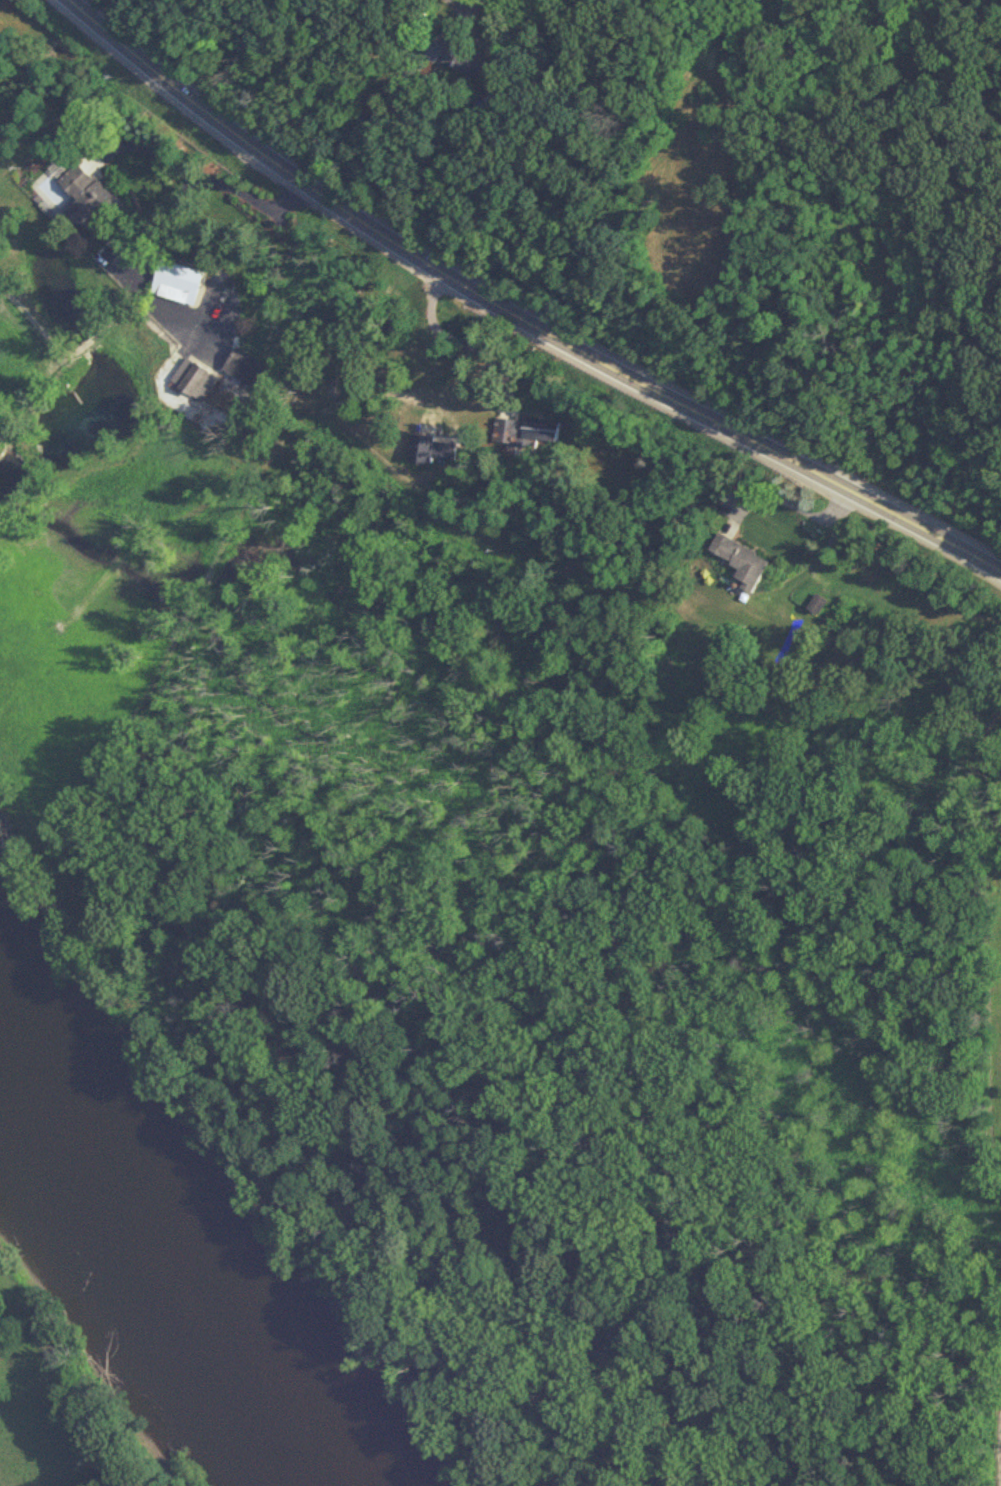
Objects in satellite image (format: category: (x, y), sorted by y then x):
road: (464, 2)
building: (457, 57)
road: (216, 185)
building: (85, 198)
building: (175, 283)
road: (517, 315)
road: (450, 341)
building: (244, 368)
building: (193, 380)
building: (525, 432)
building: (431, 449)
road: (791, 505)
building: (739, 561)
river: (170, 1255)

